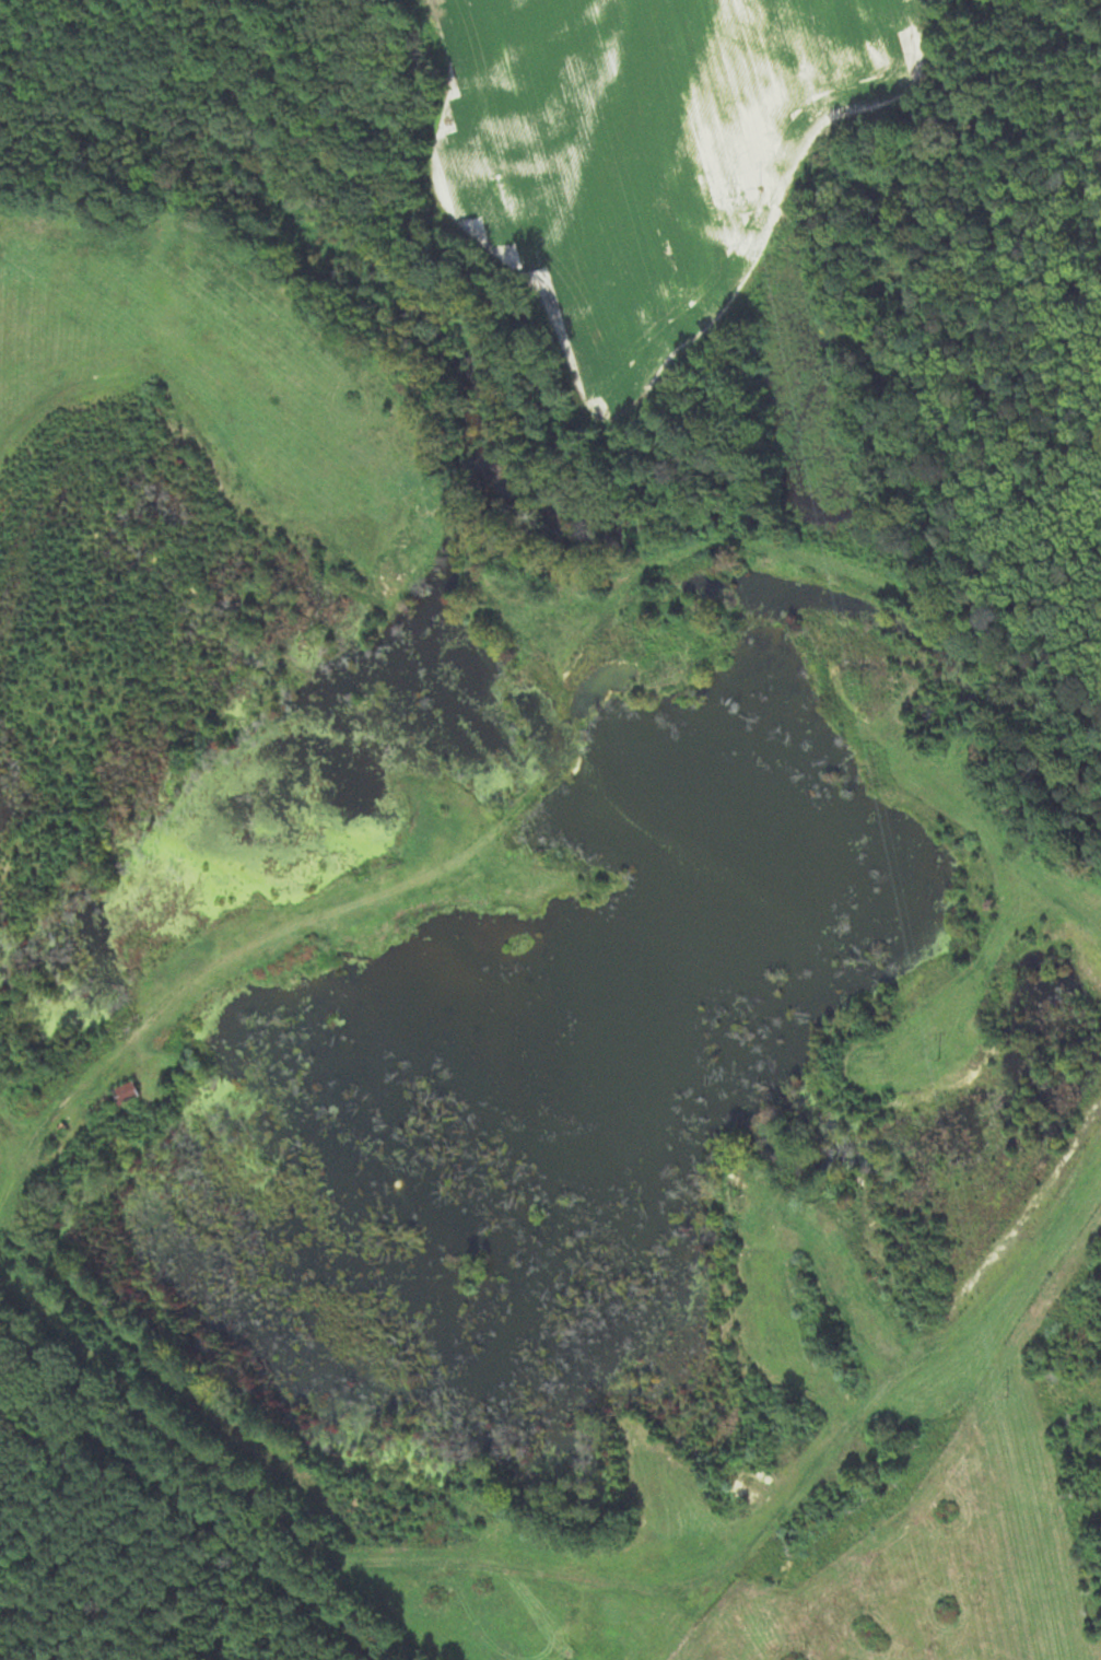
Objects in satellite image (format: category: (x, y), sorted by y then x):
power tower: (762, 188)
power tower: (847, 665)
road: (1055, 901)
road: (218, 967)
power tower: (936, 1061)
power tower: (1006, 1395)
road: (593, 1583)

